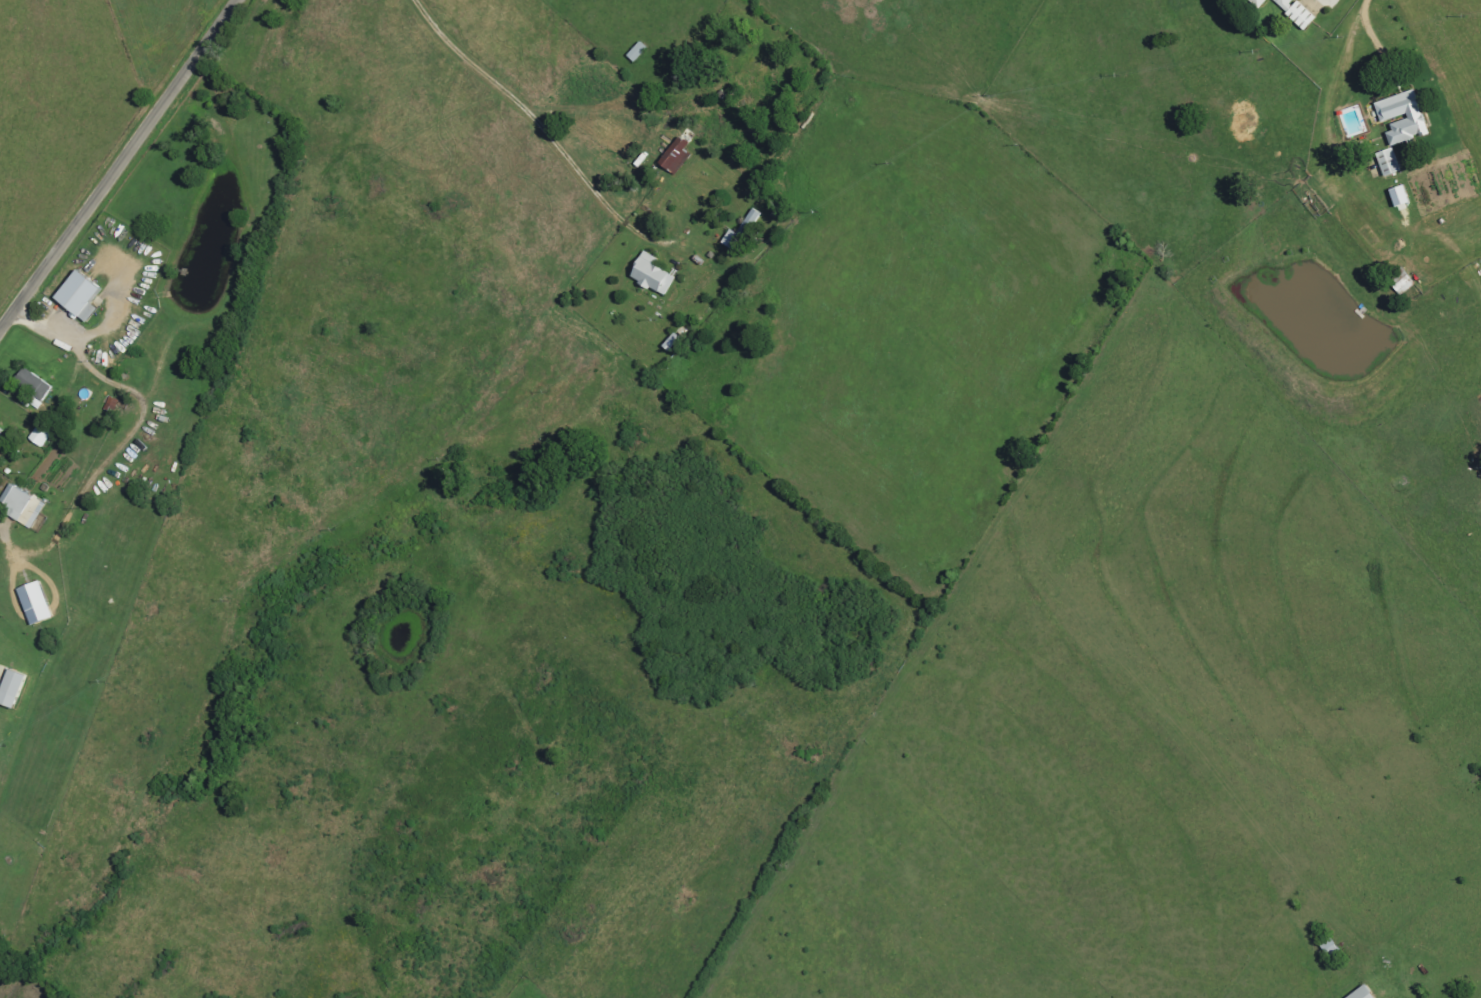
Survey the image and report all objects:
building: (1256, 2)
road: (1309, 2)
building: (1282, 3)
building: (1298, 15)
road: (688, 29)
building: (632, 53)
road: (1343, 71)
building: (1399, 117)
road: (555, 141)
building: (673, 156)
building: (1386, 162)
road: (117, 164)
building: (1396, 196)
building: (739, 232)
building: (649, 274)
building: (75, 296)
building: (669, 342)
building: (31, 384)
building: (110, 404)
building: (22, 507)
building: (32, 603)
building: (16, 687)
building: (1359, 993)

